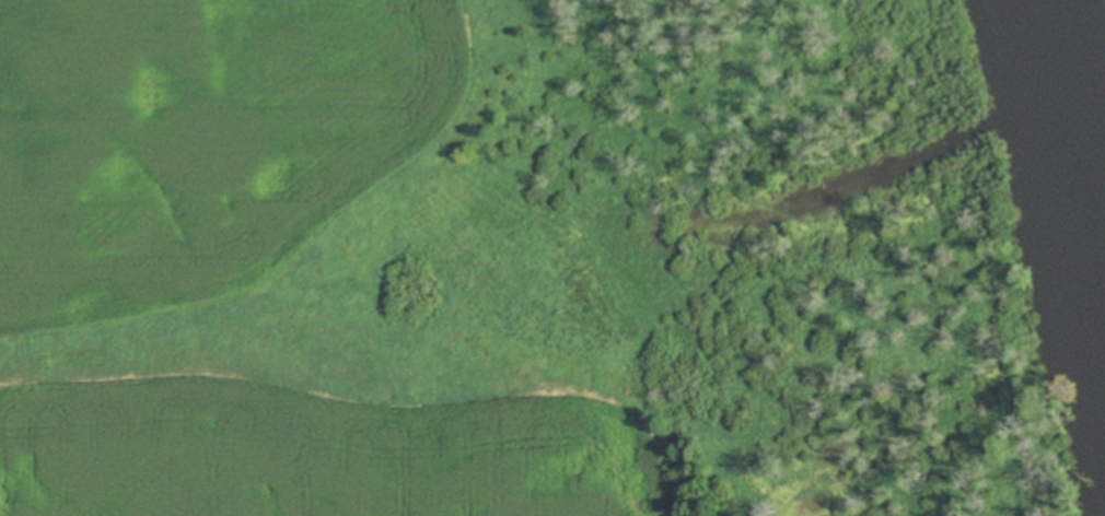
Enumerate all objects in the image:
river: (1068, 159)

